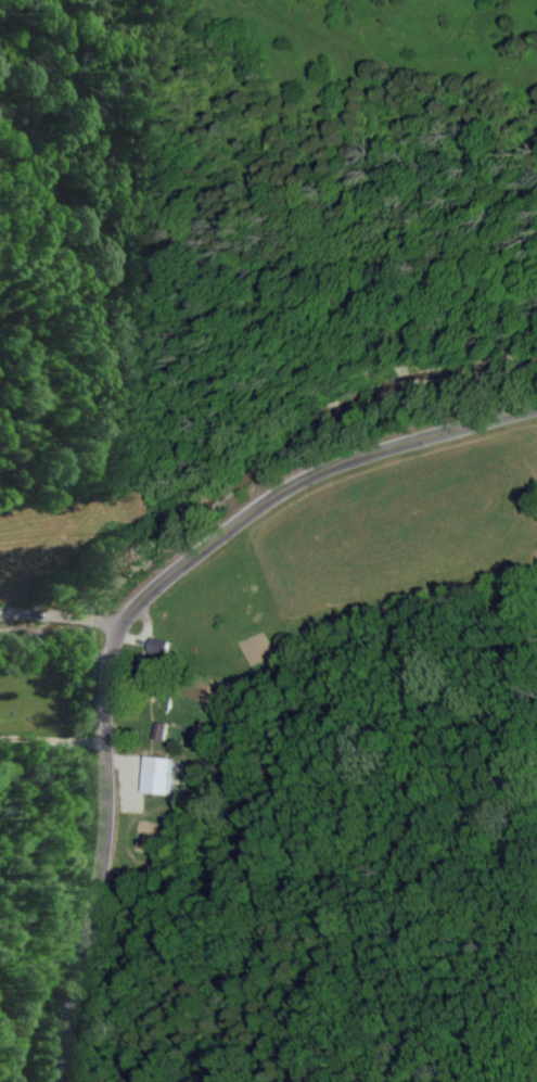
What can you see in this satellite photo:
road: (113, 597)
road: (73, 635)
building: (155, 776)

